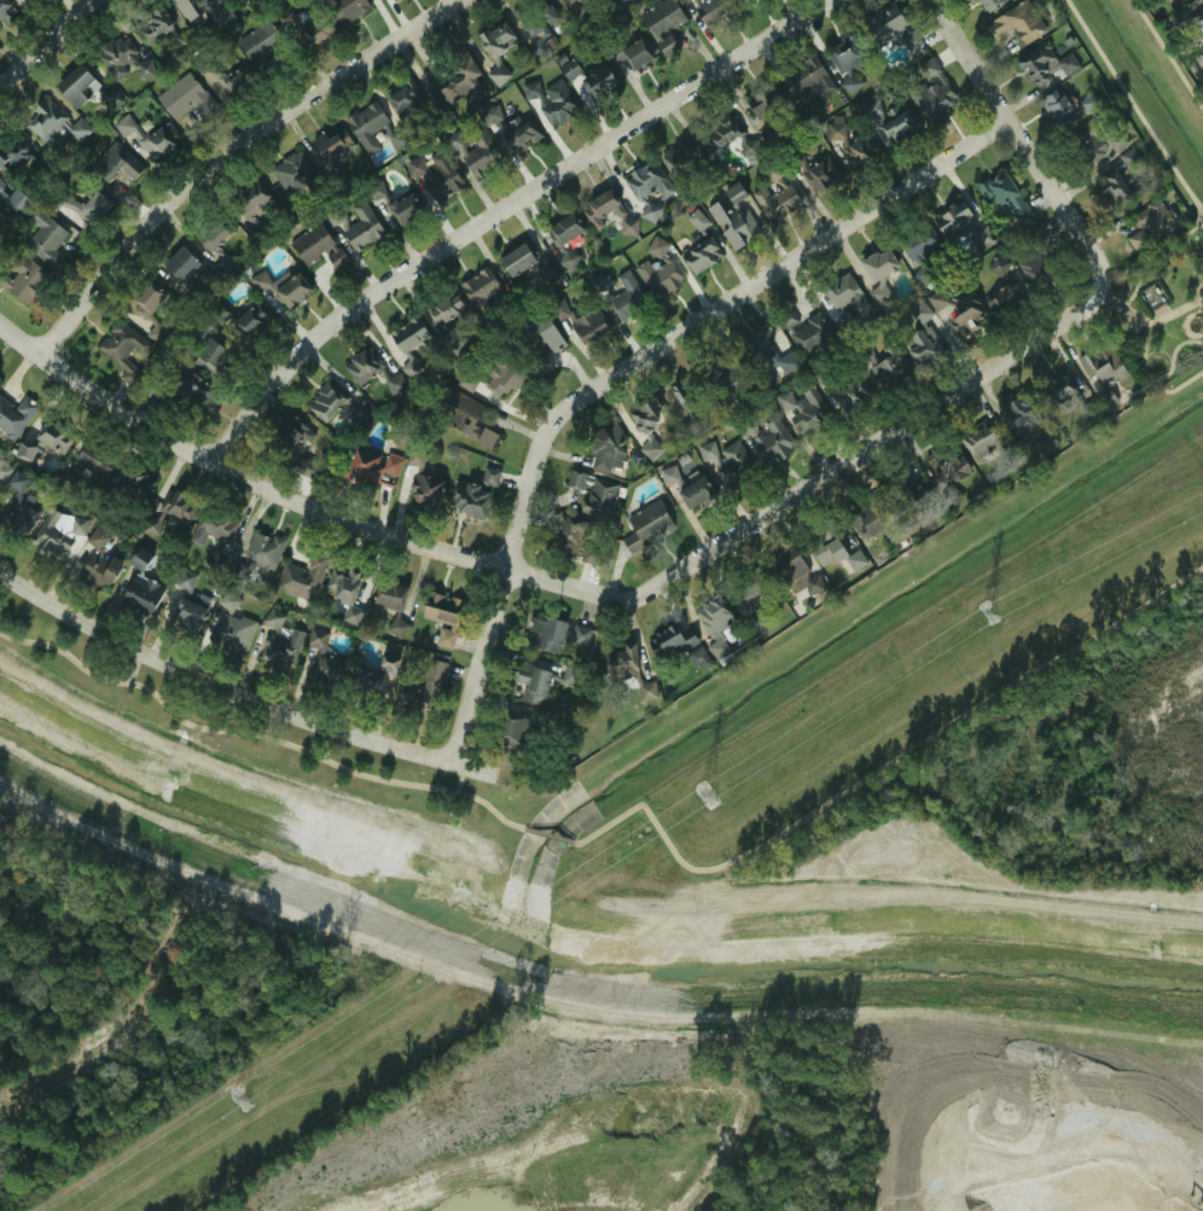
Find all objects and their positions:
building: (256, 0)
building: (19, 1)
building: (743, 1)
building: (620, 2)
building: (989, 4)
building: (192, 7)
building: (345, 8)
building: (4, 10)
building: (710, 11)
building: (575, 12)
building: (661, 17)
building: (1017, 22)
building: (1197, 22)
building: (152, 24)
building: (534, 24)
building: (316, 30)
building: (894, 30)
building: (495, 39)
building: (255, 41)
road: (52, 48)
building: (630, 54)
building: (841, 56)
building: (115, 57)
building: (1199, 59)
building: (1046, 65)
building: (568, 70)
building: (458, 71)
building: (496, 75)
building: (808, 77)
building: (589, 81)
building: (234, 83)
building: (849, 83)
building: (75, 85)
building: (931, 91)
building: (184, 97)
building: (403, 97)
building: (551, 99)
building: (1088, 103)
building: (768, 104)
building: (1057, 107)
building: (489, 113)
building: (889, 118)
building: (46, 122)
building: (366, 126)
building: (833, 127)
building: (720, 129)
building: (519, 133)
building: (147, 136)
road: (1016, 140)
building: (1115, 140)
building: (330, 141)
building: (1091, 142)
building: (858, 152)
building: (11, 153)
building: (682, 153)
road: (236, 155)
building: (475, 156)
building: (41, 157)
building: (1128, 157)
building: (115, 163)
building: (294, 173)
building: (437, 175)
building: (816, 176)
building: (647, 180)
building: (0, 185)
building: (1112, 187)
building: (1002, 196)
building: (774, 197)
building: (1, 198)
building: (13, 199)
building: (251, 200)
building: (77, 208)
building: (395, 208)
road: (506, 208)
building: (608, 210)
building: (647, 211)
building: (733, 219)
building: (696, 220)
building: (1152, 221)
building: (960, 225)
building: (358, 227)
building: (565, 228)
building: (211, 235)
building: (43, 239)
building: (315, 248)
building: (918, 250)
building: (701, 256)
building: (1038, 257)
building: (515, 261)
building: (566, 262)
building: (179, 263)
building: (223, 263)
building: (998, 264)
building: (657, 270)
building: (877, 273)
building: (23, 279)
building: (258, 281)
building: (480, 285)
building: (290, 291)
building: (844, 295)
building: (147, 297)
building: (627, 297)
building: (1004, 299)
building: (446, 309)
building: (966, 316)
building: (246, 321)
building: (588, 326)
building: (806, 332)
building: (408, 334)
building: (540, 336)
building: (922, 342)
building: (120, 350)
building: (766, 353)
building: (214, 360)
building: (888, 362)
building: (540, 365)
building: (409, 367)
road: (628, 367)
building: (370, 369)
building: (1102, 372)
building: (504, 375)
building: (467, 380)
building: (730, 385)
building: (1060, 390)
building: (852, 391)
building: (193, 394)
building: (325, 402)
building: (687, 407)
building: (1023, 409)
building: (356, 411)
building: (804, 411)
building: (1085, 411)
building: (14, 415)
building: (465, 417)
building: (644, 417)
building: (53, 436)
building: (289, 437)
building: (981, 439)
building: (766, 441)
building: (604, 447)
building: (705, 450)
building: (22, 453)
building: (414, 458)
building: (91, 464)
building: (733, 464)
building: (947, 464)
building: (303, 467)
building: (370, 467)
building: (2, 471)
building: (133, 483)
building: (423, 490)
building: (695, 493)
building: (472, 495)
building: (908, 496)
building: (599, 497)
building: (17, 508)
building: (173, 510)
building: (874, 522)
building: (646, 525)
building: (213, 530)
building: (54, 535)
building: (568, 537)
building: (829, 553)
building: (262, 554)
building: (138, 558)
building: (98, 563)
building: (795, 572)
building: (302, 577)
building: (185, 580)
road: (565, 584)
building: (344, 592)
building: (141, 593)
building: (749, 594)
building: (389, 595)
building: (227, 601)
building: (187, 612)
power tower: (989, 613)
building: (441, 617)
building: (714, 619)
building: (395, 628)
building: (233, 633)
building: (546, 633)
building: (579, 634)
building: (316, 639)
building: (278, 642)
building: (679, 645)
building: (326, 670)
building: (628, 670)
building: (569, 675)
building: (374, 676)
building: (420, 683)
building: (531, 683)
road: (234, 695)
building: (513, 730)
power tower: (703, 792)
river: (577, 963)
power tower: (238, 1099)

